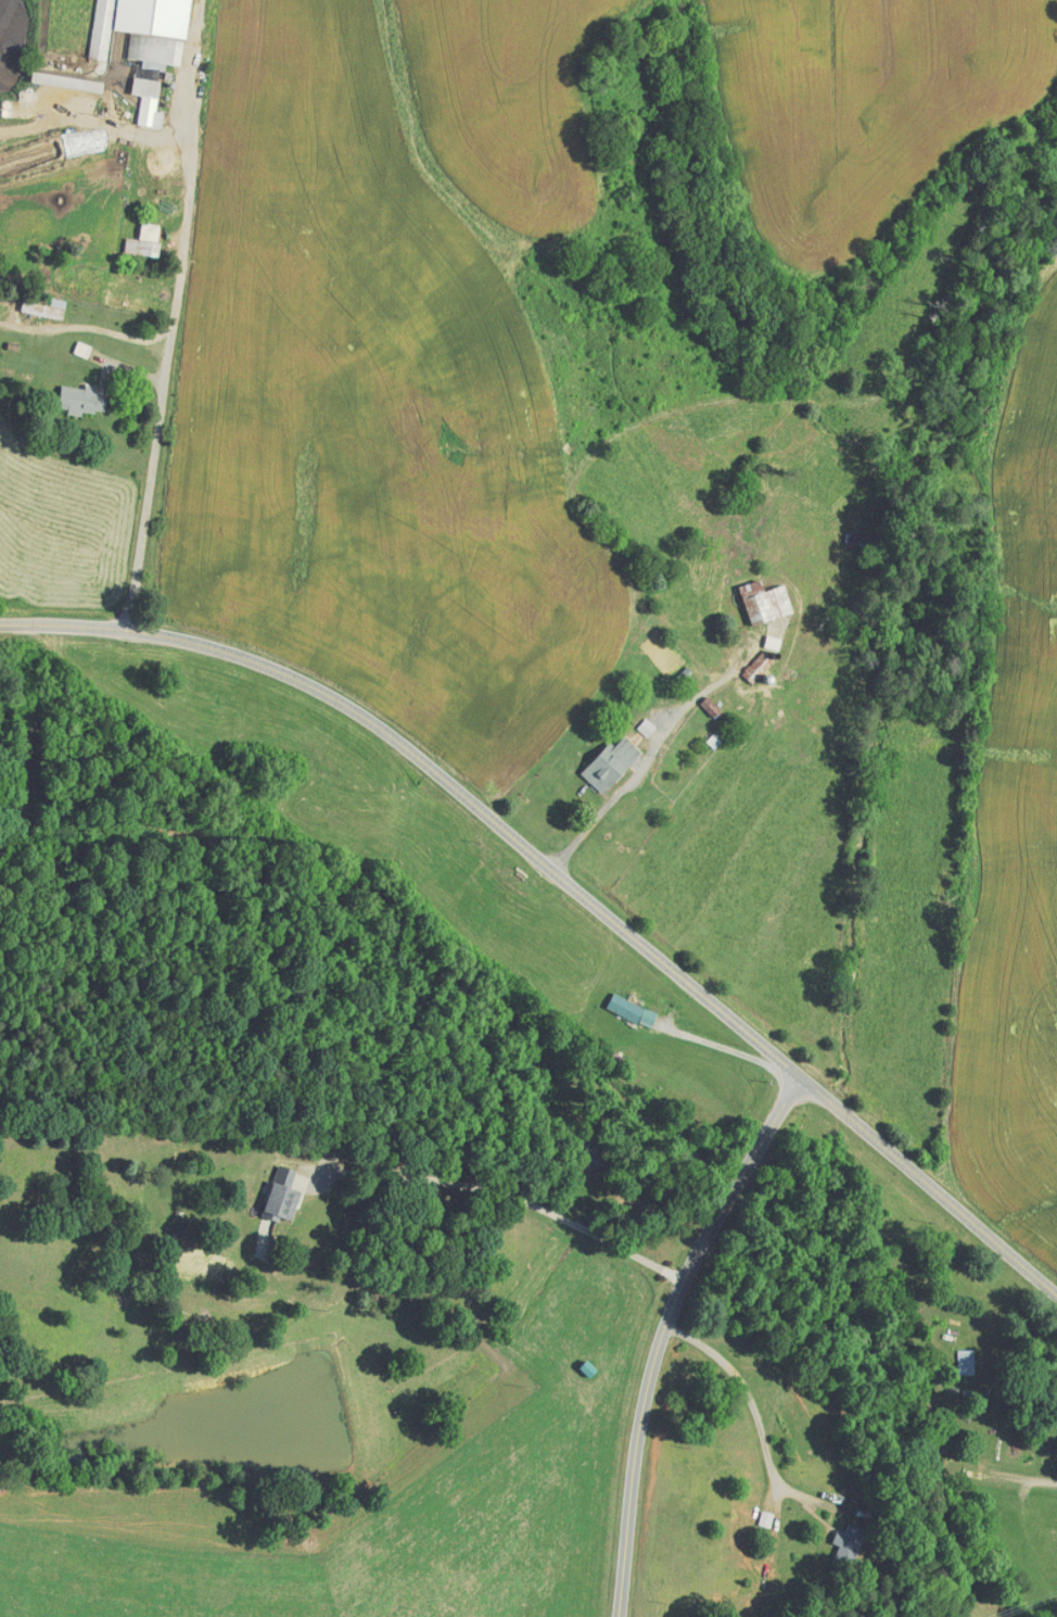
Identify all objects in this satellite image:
building: (101, 28)
building: (152, 45)
building: (66, 80)
building: (144, 239)
building: (44, 307)
building: (81, 349)
road: (168, 358)
building: (81, 399)
building: (764, 601)
building: (757, 666)
building: (646, 725)
building: (610, 762)
road: (641, 773)
road: (564, 876)
building: (632, 1010)
building: (282, 1195)
road: (519, 1199)
road: (671, 1331)
building: (966, 1361)
road: (759, 1420)
road: (996, 1476)
building: (849, 1545)

